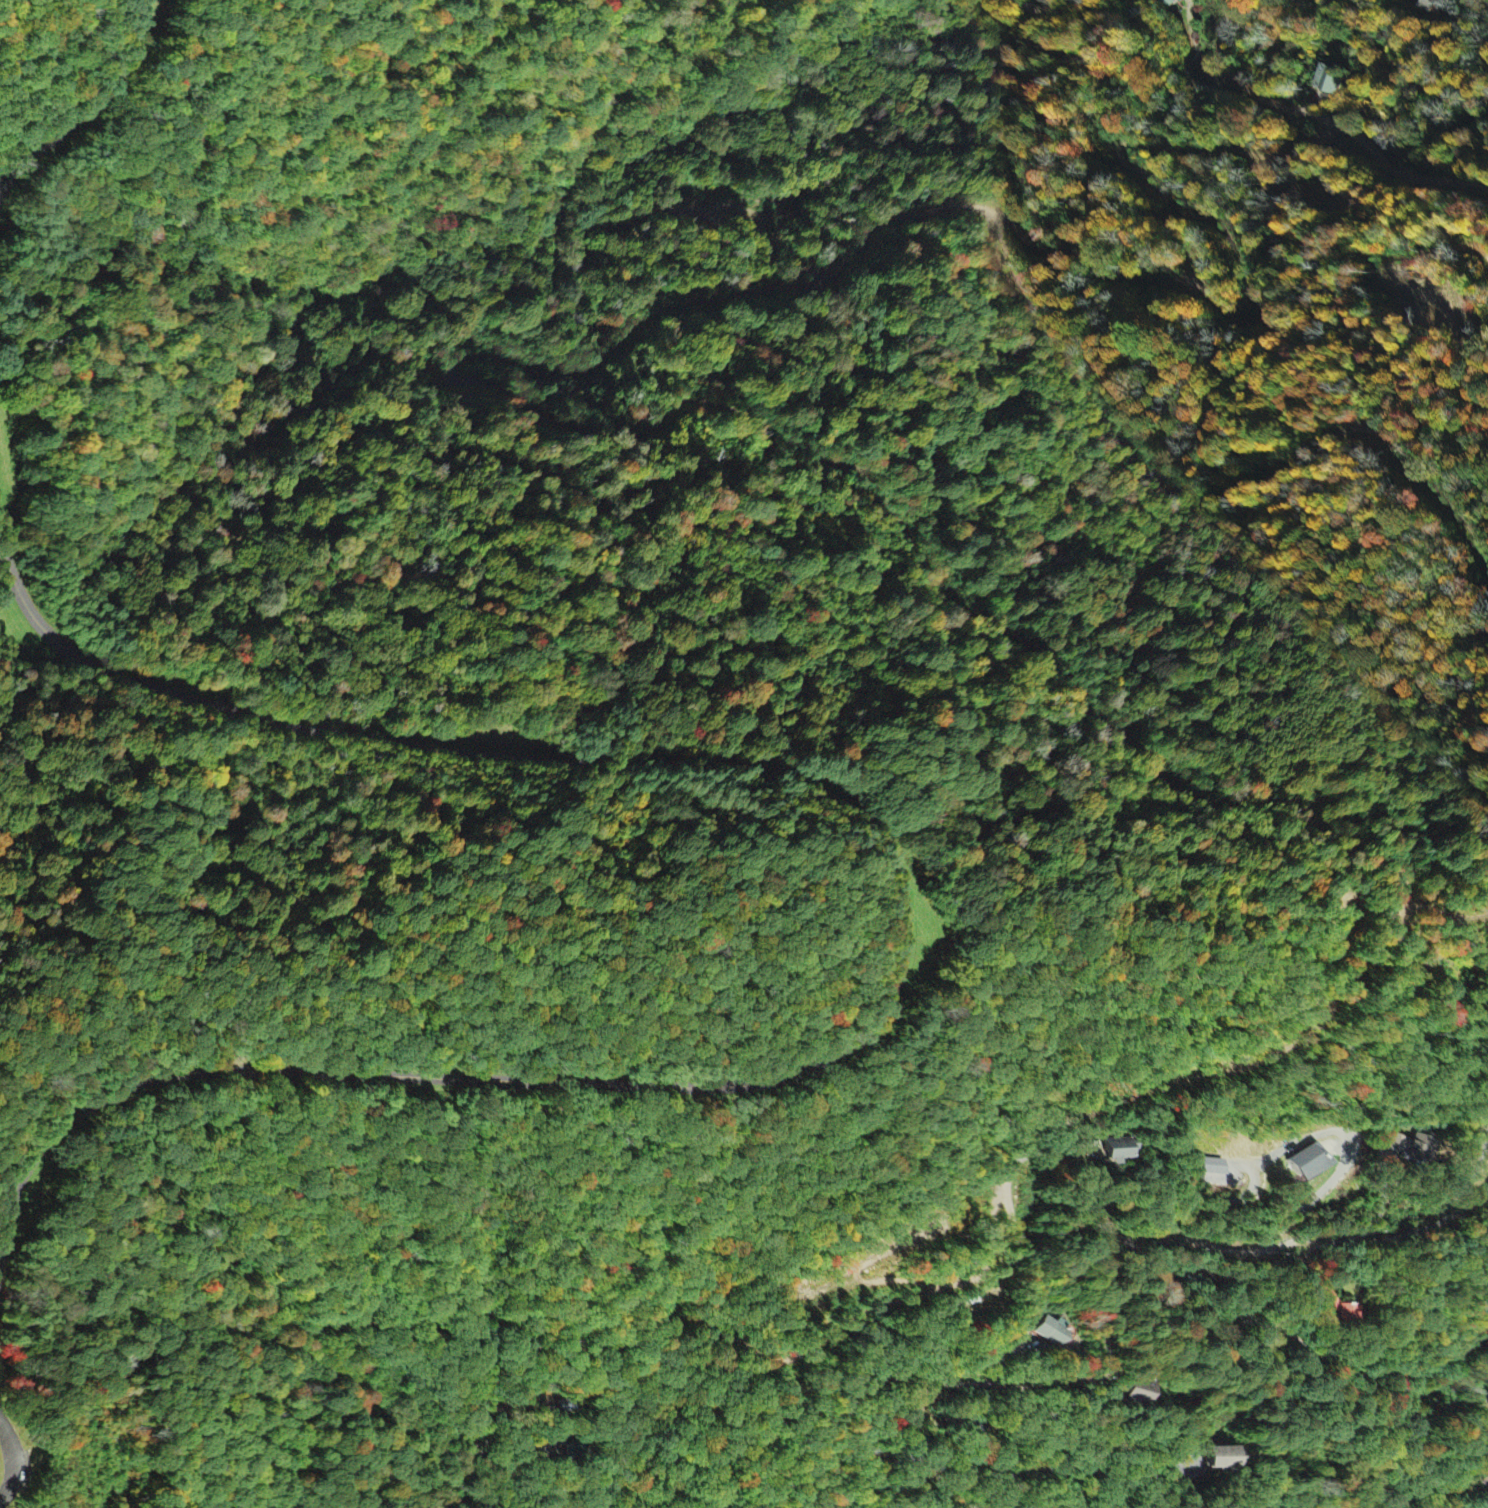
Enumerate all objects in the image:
building: (1173, 3)
road: (90, 107)
road: (1321, 118)
road: (908, 938)
building: (1409, 1148)
building: (1117, 1151)
building: (1305, 1163)
building: (1212, 1167)
road: (1189, 1218)
road: (992, 1236)
building: (1048, 1332)
road: (1299, 1343)
road: (800, 1359)
building: (1135, 1392)
building: (1207, 1458)
road: (15, 1460)
road: (26, 1460)
road: (5, 1461)
parking lot: (12, 1463)

